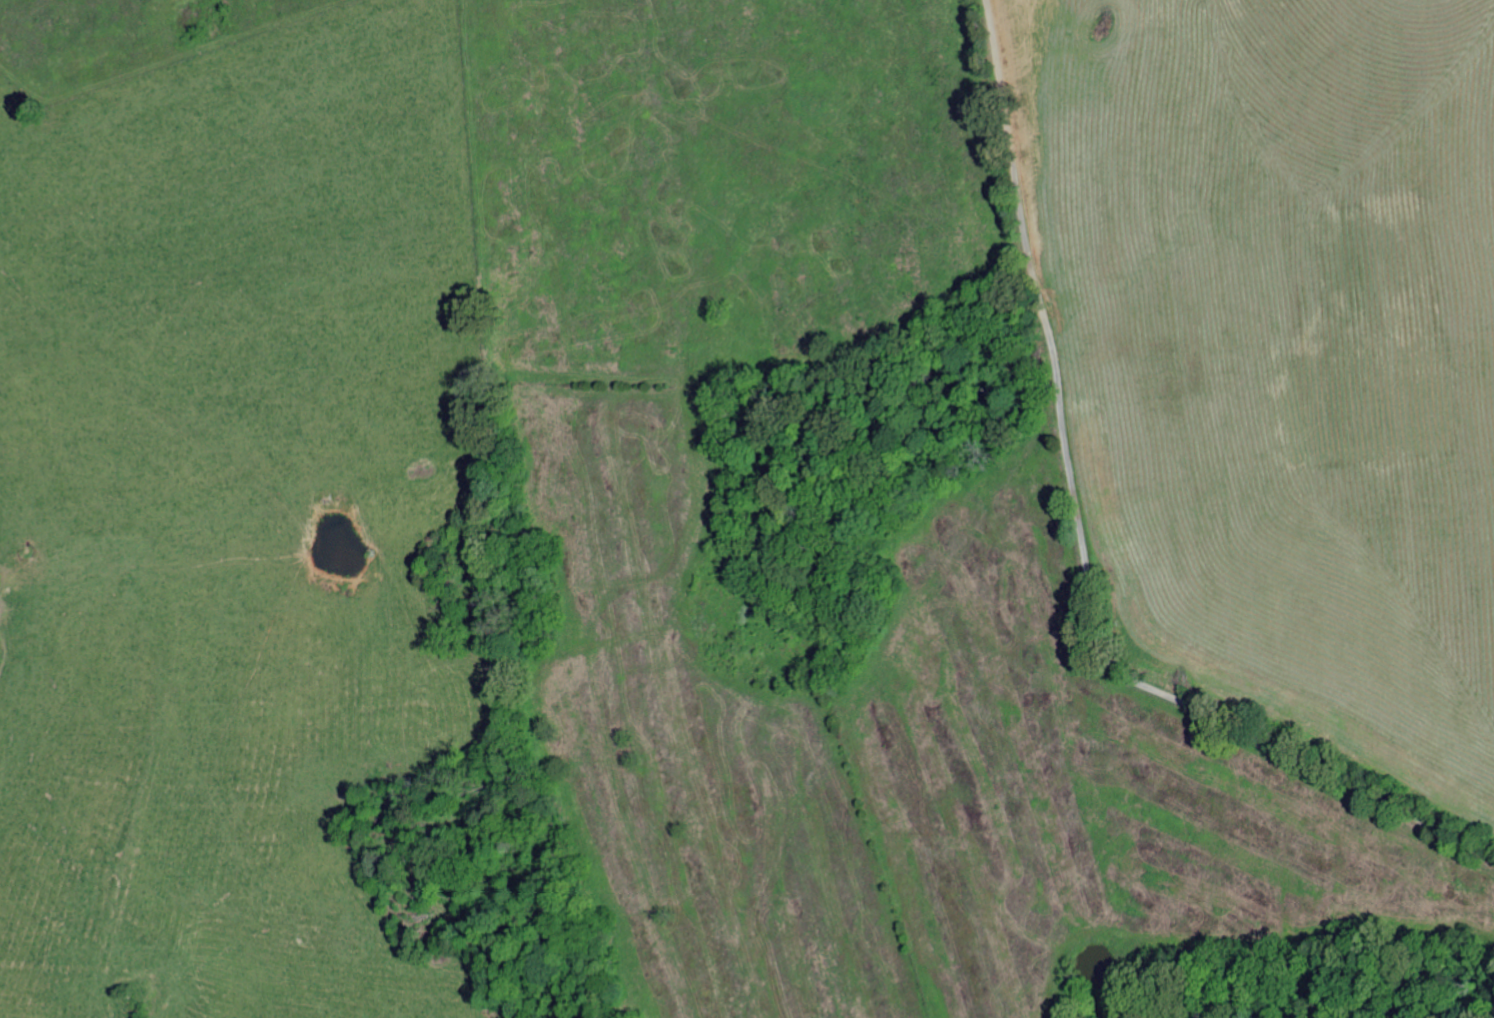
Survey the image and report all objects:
road: (1080, 546)

